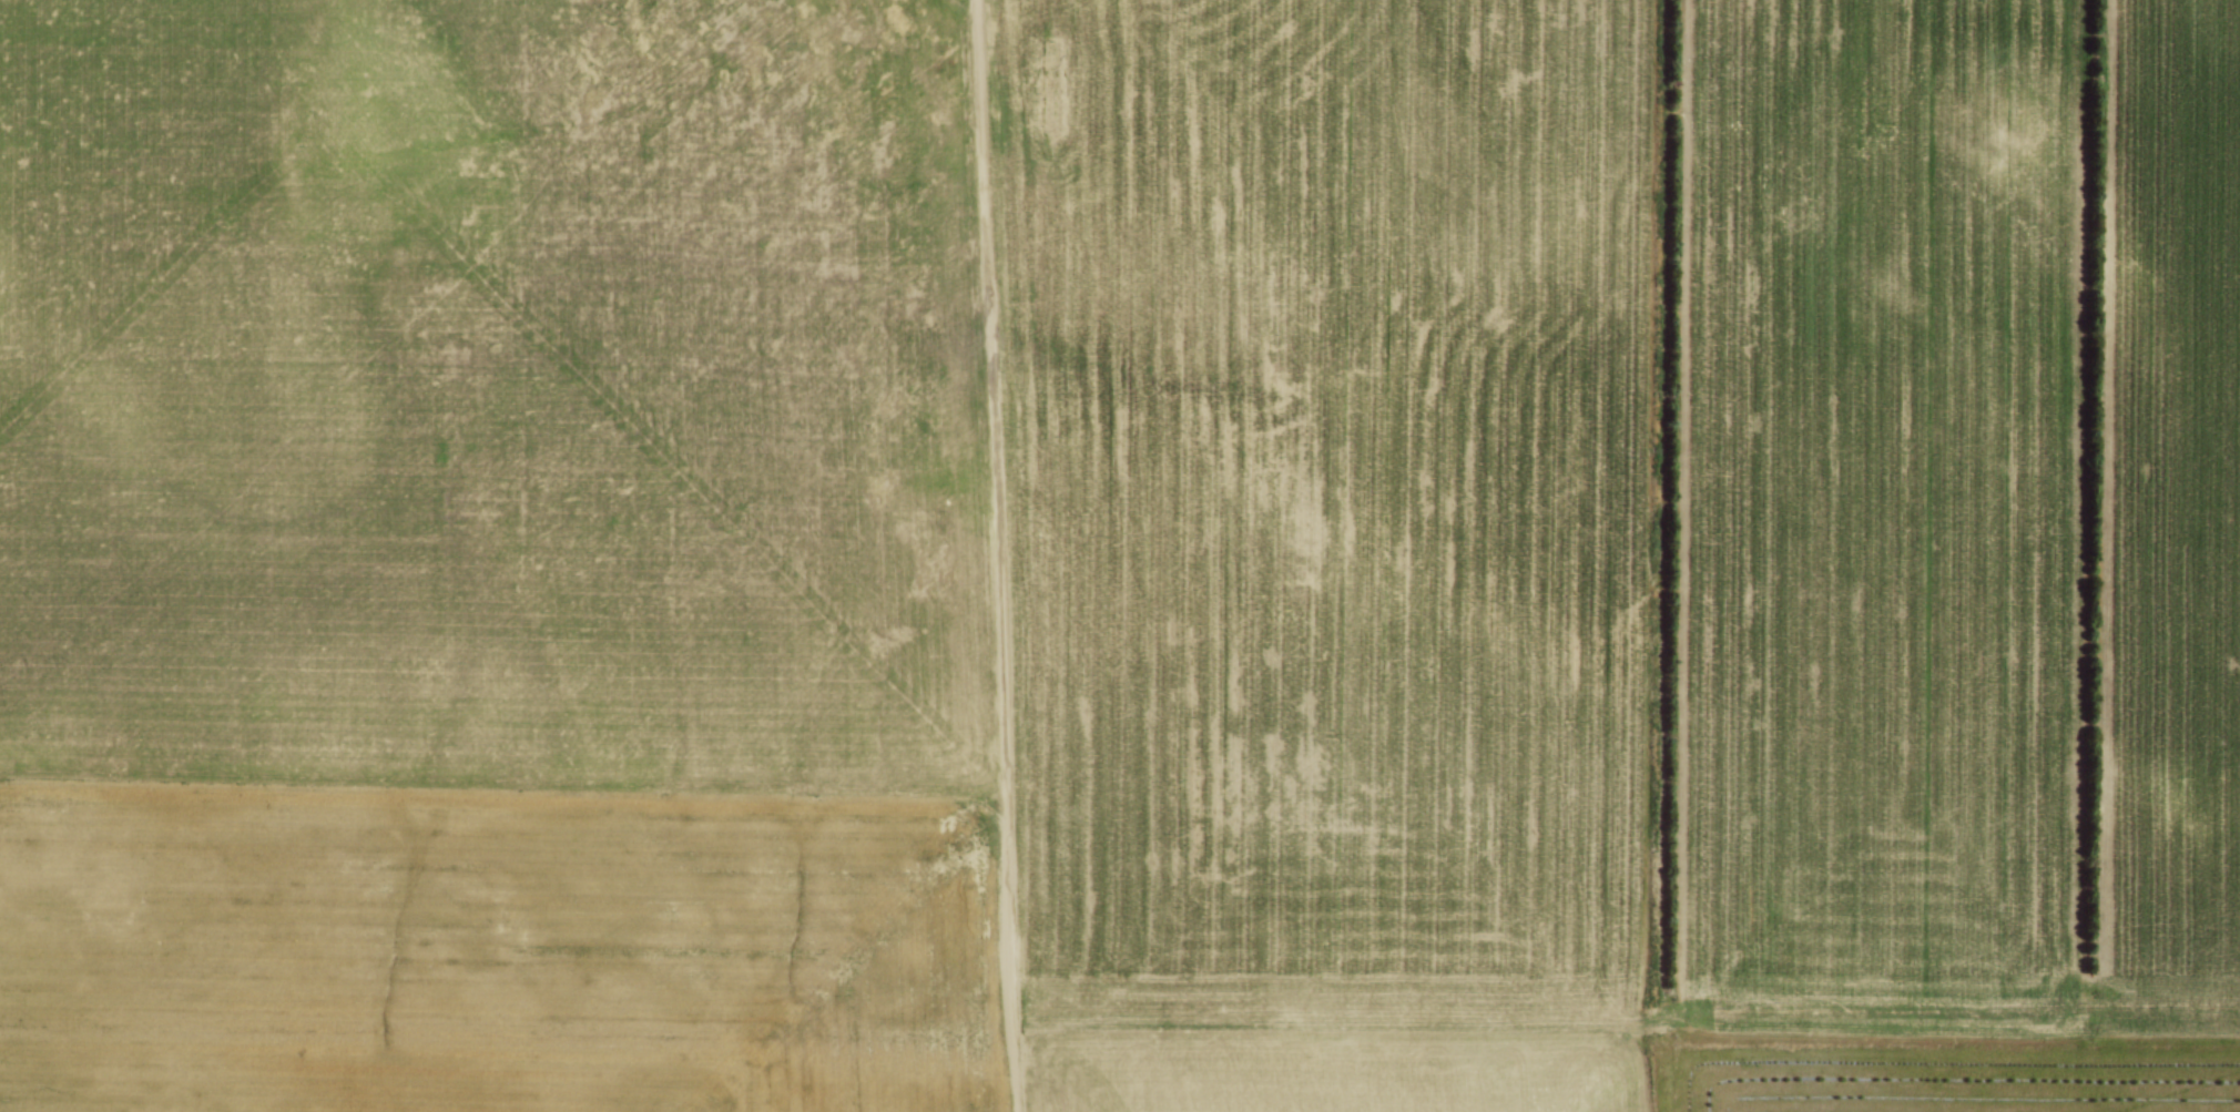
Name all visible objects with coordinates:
crop: (1097, 547)

